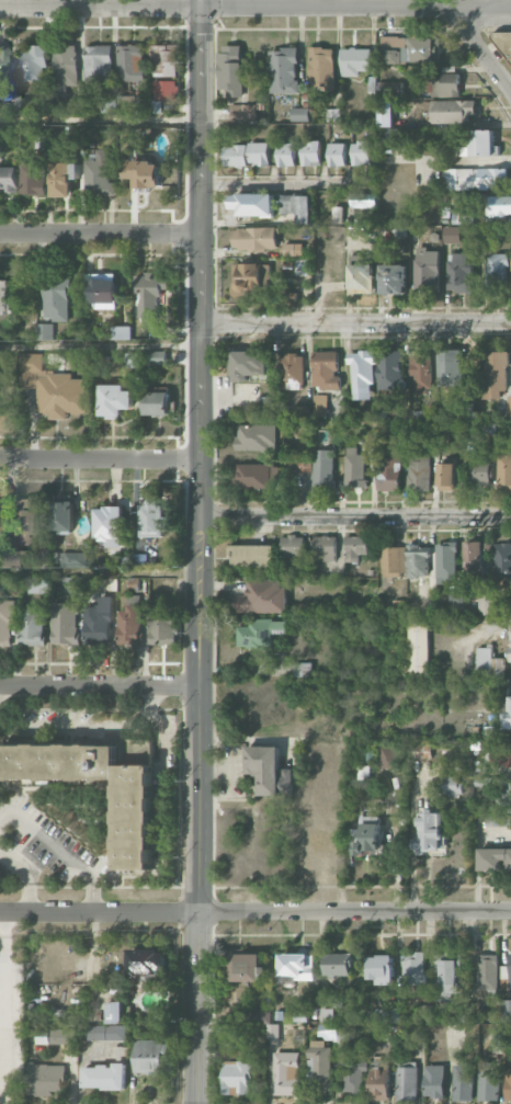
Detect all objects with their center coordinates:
road: (202, 4)
road: (254, 9)
road: (479, 48)
building: (410, 49)
building: (507, 49)
building: (166, 60)
building: (355, 61)
building: (99, 62)
building: (130, 62)
building: (33, 64)
building: (3, 68)
building: (65, 68)
building: (321, 68)
building: (284, 70)
building: (231, 71)
building: (445, 84)
building: (164, 90)
building: (370, 92)
building: (127, 102)
building: (157, 106)
building: (453, 111)
building: (243, 113)
building: (386, 113)
building: (299, 114)
road: (100, 119)
building: (391, 137)
building: (476, 144)
building: (310, 152)
building: (361, 152)
building: (259, 153)
building: (286, 155)
building: (337, 155)
building: (236, 156)
building: (144, 172)
building: (99, 175)
building: (33, 178)
building: (64, 178)
building: (476, 179)
building: (8, 180)
road: (288, 186)
building: (363, 200)
building: (252, 204)
building: (499, 205)
building: (297, 207)
road: (100, 234)
building: (452, 235)
building: (254, 238)
building: (293, 249)
building: (302, 266)
building: (427, 269)
building: (458, 272)
building: (496, 273)
building: (362, 278)
building: (394, 278)
building: (250, 280)
building: (102, 291)
building: (149, 293)
building: (4, 298)
building: (56, 299)
road: (354, 322)
building: (44, 331)
building: (122, 332)
road: (99, 346)
building: (157, 357)
building: (135, 360)
building: (248, 363)
building: (448, 367)
building: (390, 369)
building: (326, 371)
building: (294, 372)
building: (421, 373)
building: (362, 375)
building: (495, 375)
building: (53, 388)
building: (115, 400)
building: (157, 403)
building: (320, 405)
building: (509, 406)
building: (467, 410)
building: (257, 436)
road: (100, 459)
building: (304, 465)
building: (323, 468)
building: (354, 468)
building: (480, 468)
building: (419, 470)
building: (503, 470)
building: (389, 473)
building: (254, 476)
building: (445, 477)
building: (63, 512)
building: (152, 517)
road: (355, 517)
building: (23, 521)
building: (109, 526)
building: (292, 545)
building: (355, 547)
building: (325, 548)
building: (252, 555)
road: (201, 556)
building: (476, 556)
building: (13, 558)
building: (73, 559)
building: (393, 560)
building: (417, 560)
building: (502, 560)
road: (100, 567)
building: (448, 570)
building: (102, 583)
building: (70, 584)
building: (38, 585)
building: (262, 596)
building: (486, 604)
building: (7, 621)
building: (129, 622)
building: (64, 623)
building: (99, 623)
building: (455, 626)
road: (496, 626)
building: (32, 627)
building: (161, 630)
building: (260, 633)
building: (510, 644)
building: (417, 648)
building: (488, 662)
road: (99, 684)
building: (507, 715)
road: (90, 727)
building: (421, 750)
building: (501, 754)
building: (386, 758)
building: (269, 771)
building: (453, 786)
building: (508, 797)
building: (498, 820)
building: (136, 824)
building: (432, 830)
building: (367, 838)
road: (59, 851)
building: (495, 858)
road: (24, 875)
road: (254, 913)
building: (148, 960)
building: (340, 964)
building: (245, 967)
building: (296, 967)
building: (413, 968)
building: (381, 969)
building: (487, 971)
building: (506, 976)
building: (446, 977)
road: (1, 1009)
building: (507, 1011)
building: (116, 1012)
building: (327, 1014)
building: (388, 1015)
building: (459, 1017)
building: (329, 1031)
building: (103, 1032)
building: (231, 1034)
building: (54, 1036)
building: (150, 1056)
building: (320, 1065)
building: (287, 1073)
building: (508, 1075)
building: (104, 1077)
building: (237, 1077)
building: (354, 1077)
building: (45, 1079)
building: (433, 1081)
building: (462, 1081)
building: (487, 1081)
building: (379, 1082)
building: (407, 1083)

